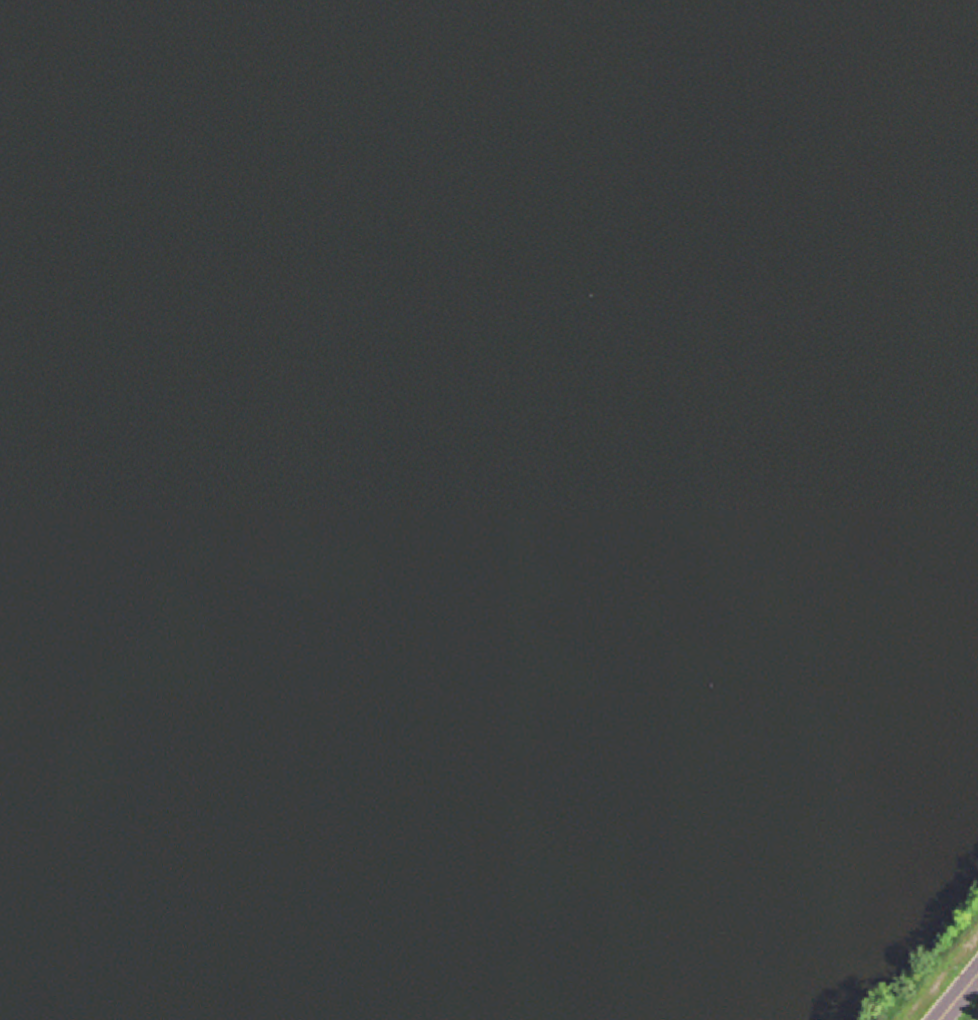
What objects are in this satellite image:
park: (931, 971)
road: (958, 997)

